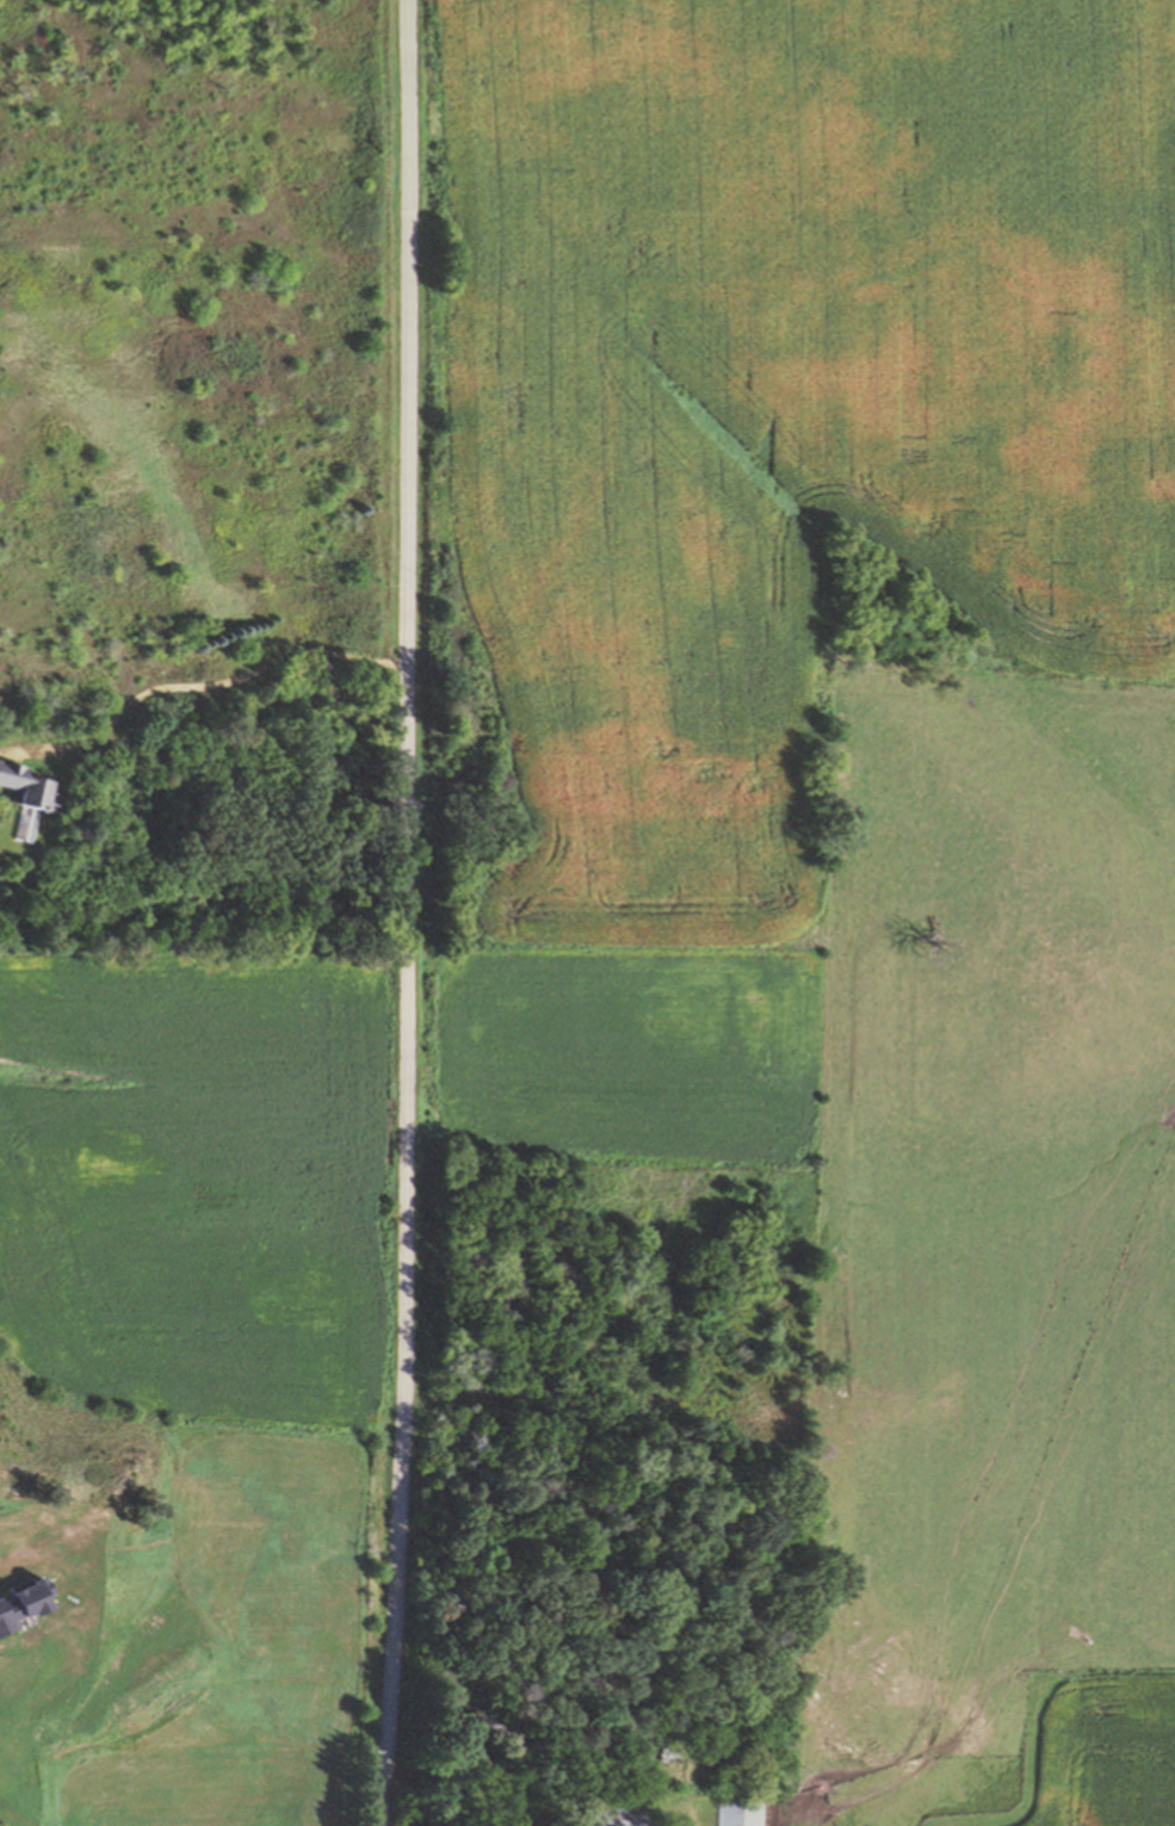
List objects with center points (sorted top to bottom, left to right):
road: (202, 688)
building: (590, 772)
building: (26, 786)
road: (404, 912)
building: (474, 1723)
building: (666, 1750)
building: (736, 1812)
building: (617, 1813)

